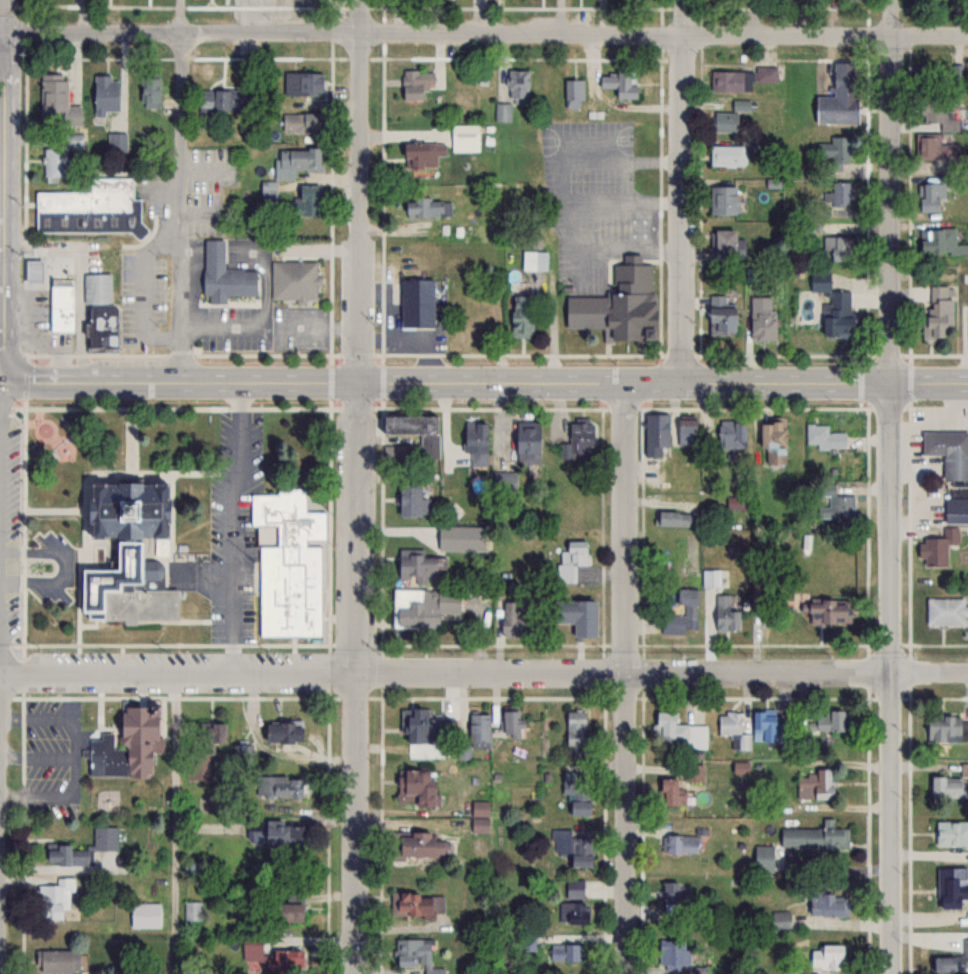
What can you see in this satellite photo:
road: (181, 16)
road: (1, 17)
road: (1, 34)
road: (485, 35)
building: (766, 74)
building: (301, 82)
building: (731, 82)
building: (517, 84)
building: (411, 85)
building: (619, 85)
building: (148, 90)
building: (103, 94)
building: (573, 94)
building: (838, 97)
building: (217, 98)
building: (56, 101)
building: (502, 111)
building: (941, 113)
building: (299, 121)
building: (724, 123)
building: (73, 139)
building: (116, 142)
building: (934, 148)
building: (422, 153)
building: (835, 153)
building: (727, 155)
building: (299, 158)
building: (53, 162)
building: (268, 189)
road: (359, 190)
road: (892, 190)
road: (683, 191)
building: (838, 193)
building: (929, 197)
building: (722, 199)
building: (304, 201)
road: (0, 206)
road: (180, 207)
building: (427, 207)
building: (89, 209)
building: (935, 240)
building: (723, 242)
building: (835, 247)
building: (534, 260)
building: (32, 269)
building: (223, 275)
building: (294, 280)
road: (142, 291)
building: (61, 302)
building: (415, 302)
building: (617, 304)
building: (832, 306)
building: (937, 310)
building: (99, 312)
building: (520, 315)
building: (718, 316)
building: (761, 325)
road: (0, 380)
road: (484, 382)
road: (0, 429)
building: (414, 430)
building: (685, 431)
building: (655, 434)
building: (731, 434)
building: (824, 437)
building: (772, 440)
building: (577, 441)
building: (475, 442)
building: (526, 442)
building: (948, 451)
building: (410, 497)
building: (936, 501)
building: (839, 505)
building: (673, 519)
road: (237, 527)
building: (456, 534)
building: (133, 559)
building: (571, 560)
building: (287, 566)
building: (417, 566)
building: (421, 606)
building: (946, 611)
building: (726, 612)
building: (828, 612)
building: (681, 614)
building: (574, 615)
building: (509, 618)
road: (484, 673)
road: (355, 677)
road: (626, 677)
road: (891, 677)
building: (825, 720)
building: (729, 723)
building: (478, 724)
building: (509, 724)
building: (426, 726)
building: (669, 727)
building: (575, 728)
building: (946, 728)
building: (280, 731)
building: (696, 737)
building: (126, 745)
building: (203, 749)
building: (738, 768)
building: (693, 773)
building: (814, 785)
building: (277, 786)
building: (945, 786)
building: (413, 787)
building: (577, 792)
building: (669, 793)
road: (175, 823)
building: (272, 832)
building: (951, 834)
building: (814, 837)
building: (416, 845)
building: (681, 845)
building: (104, 846)
building: (574, 846)
building: (65, 855)
building: (762, 859)
building: (950, 887)
building: (574, 889)
building: (55, 898)
building: (670, 898)
building: (826, 903)
building: (417, 904)
building: (289, 908)
building: (192, 910)
building: (572, 913)
building: (144, 915)
building: (780, 921)
building: (251, 948)
building: (564, 952)
building: (965, 952)
building: (672, 953)
building: (415, 954)
building: (826, 957)
building: (284, 959)
building: (58, 962)
building: (942, 965)
building: (696, 970)

